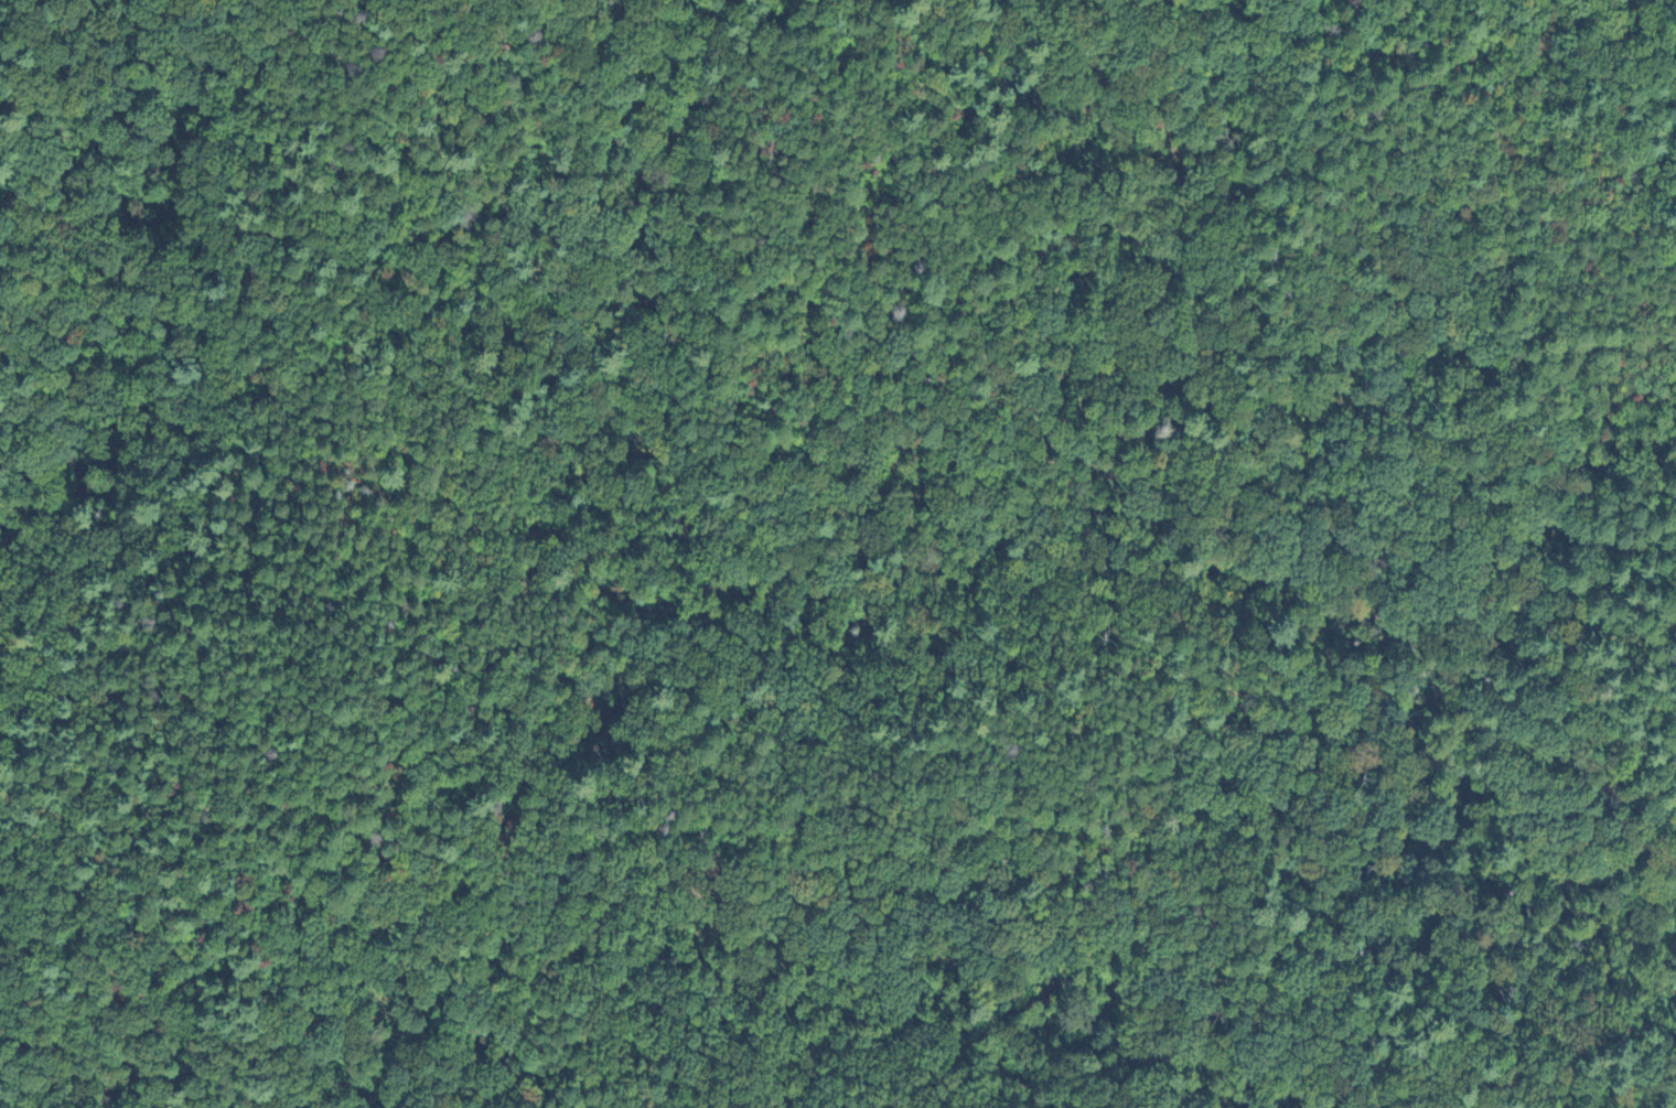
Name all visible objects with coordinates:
road: (194, 40)

